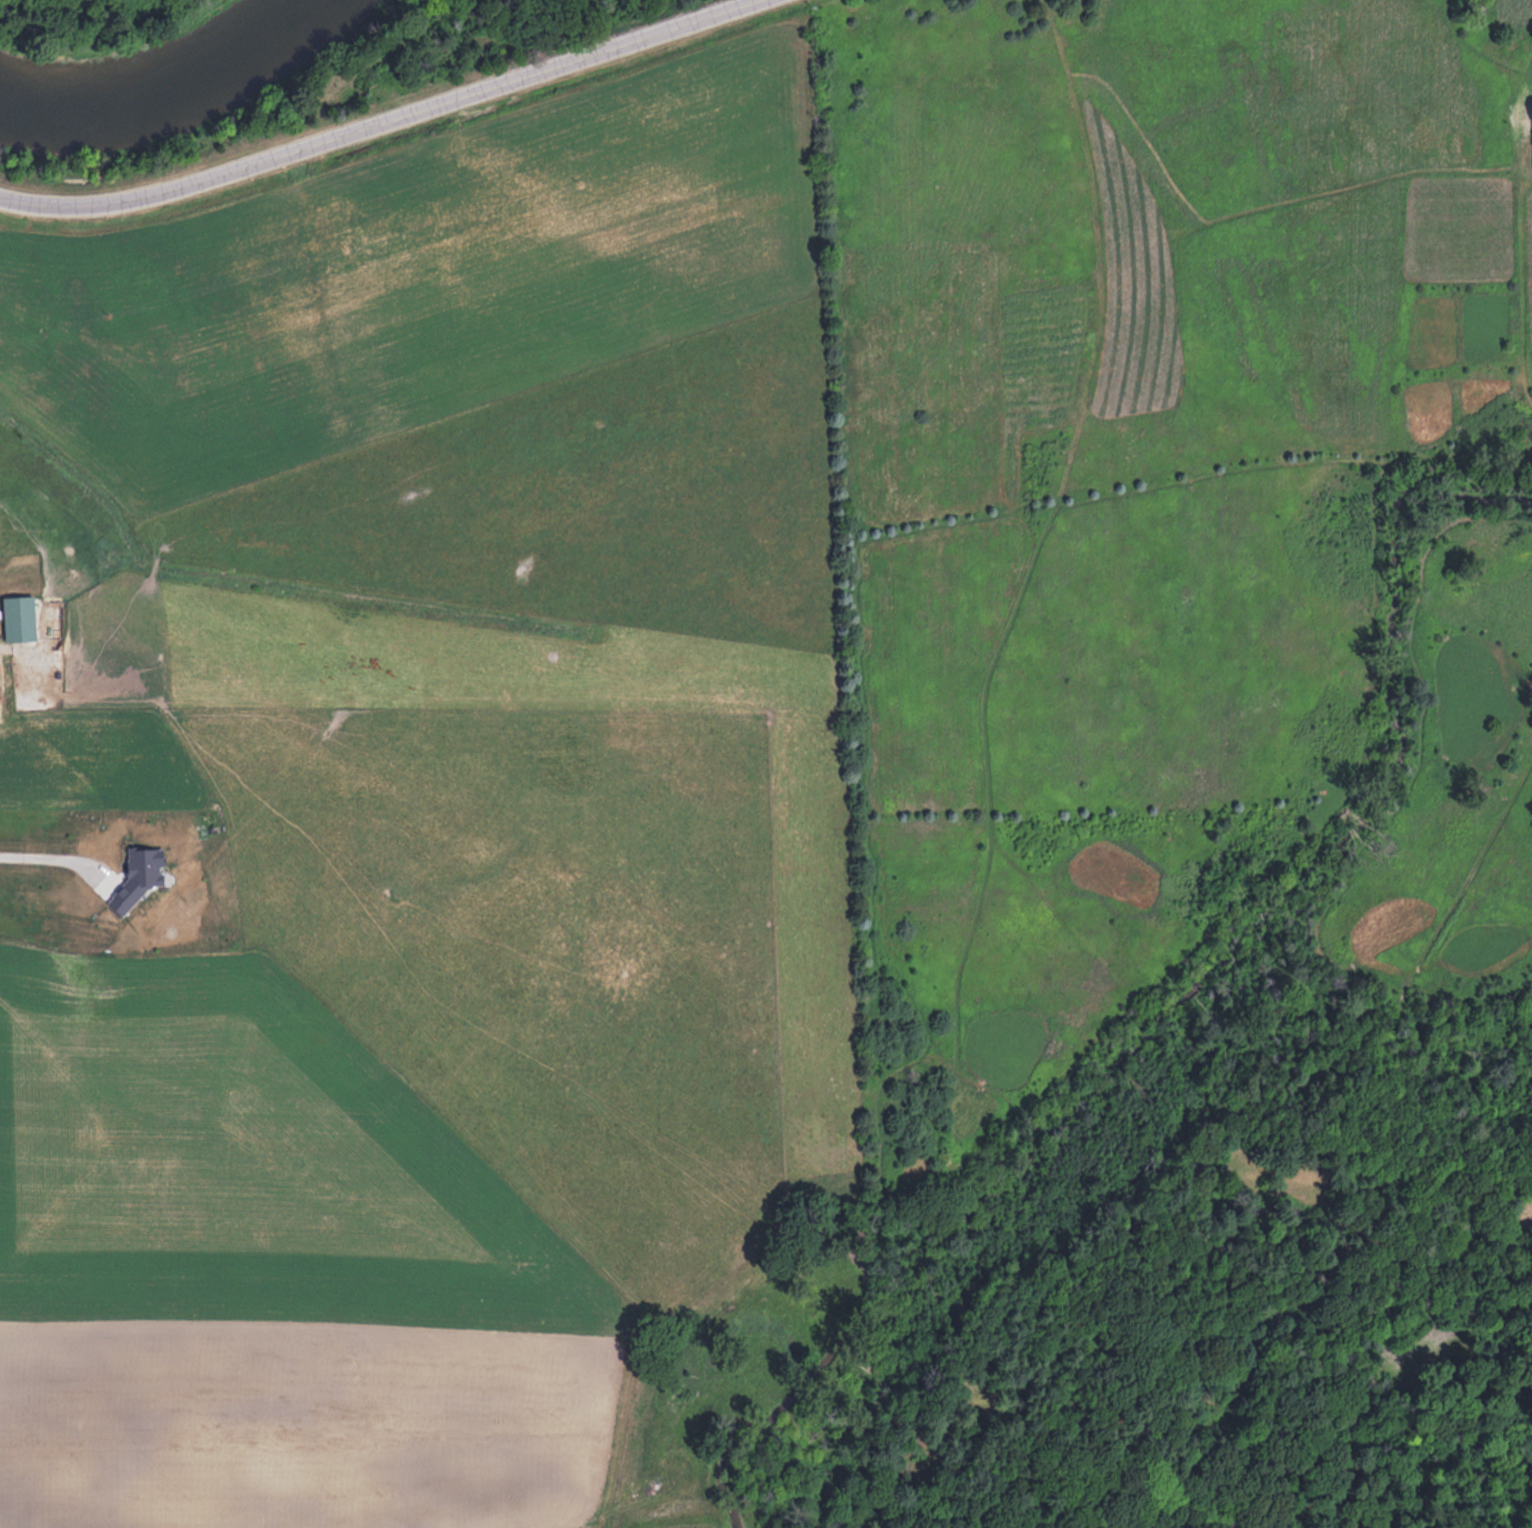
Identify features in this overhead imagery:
river: (157, 78)
road: (398, 126)
building: (1531, 135)
building: (17, 618)

